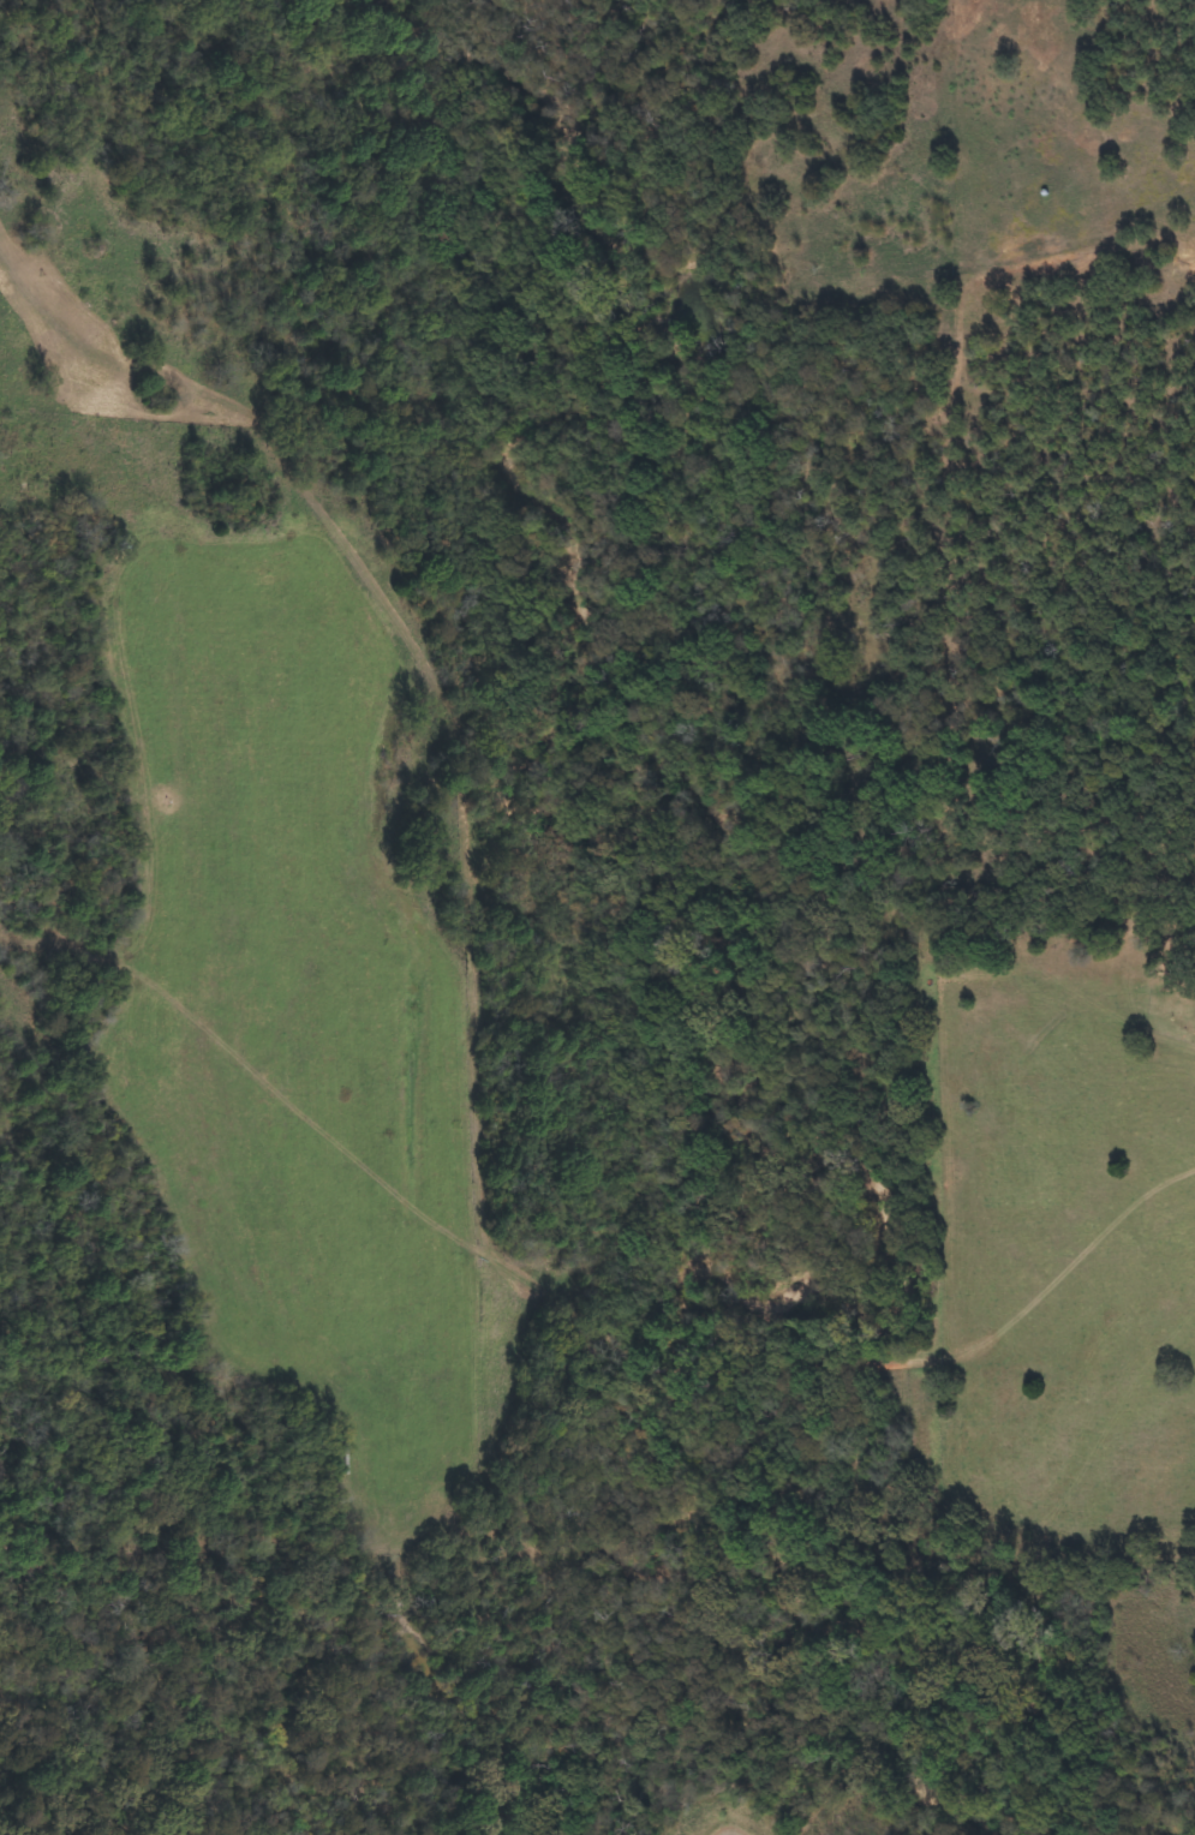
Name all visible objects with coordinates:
building: (1194, 948)

